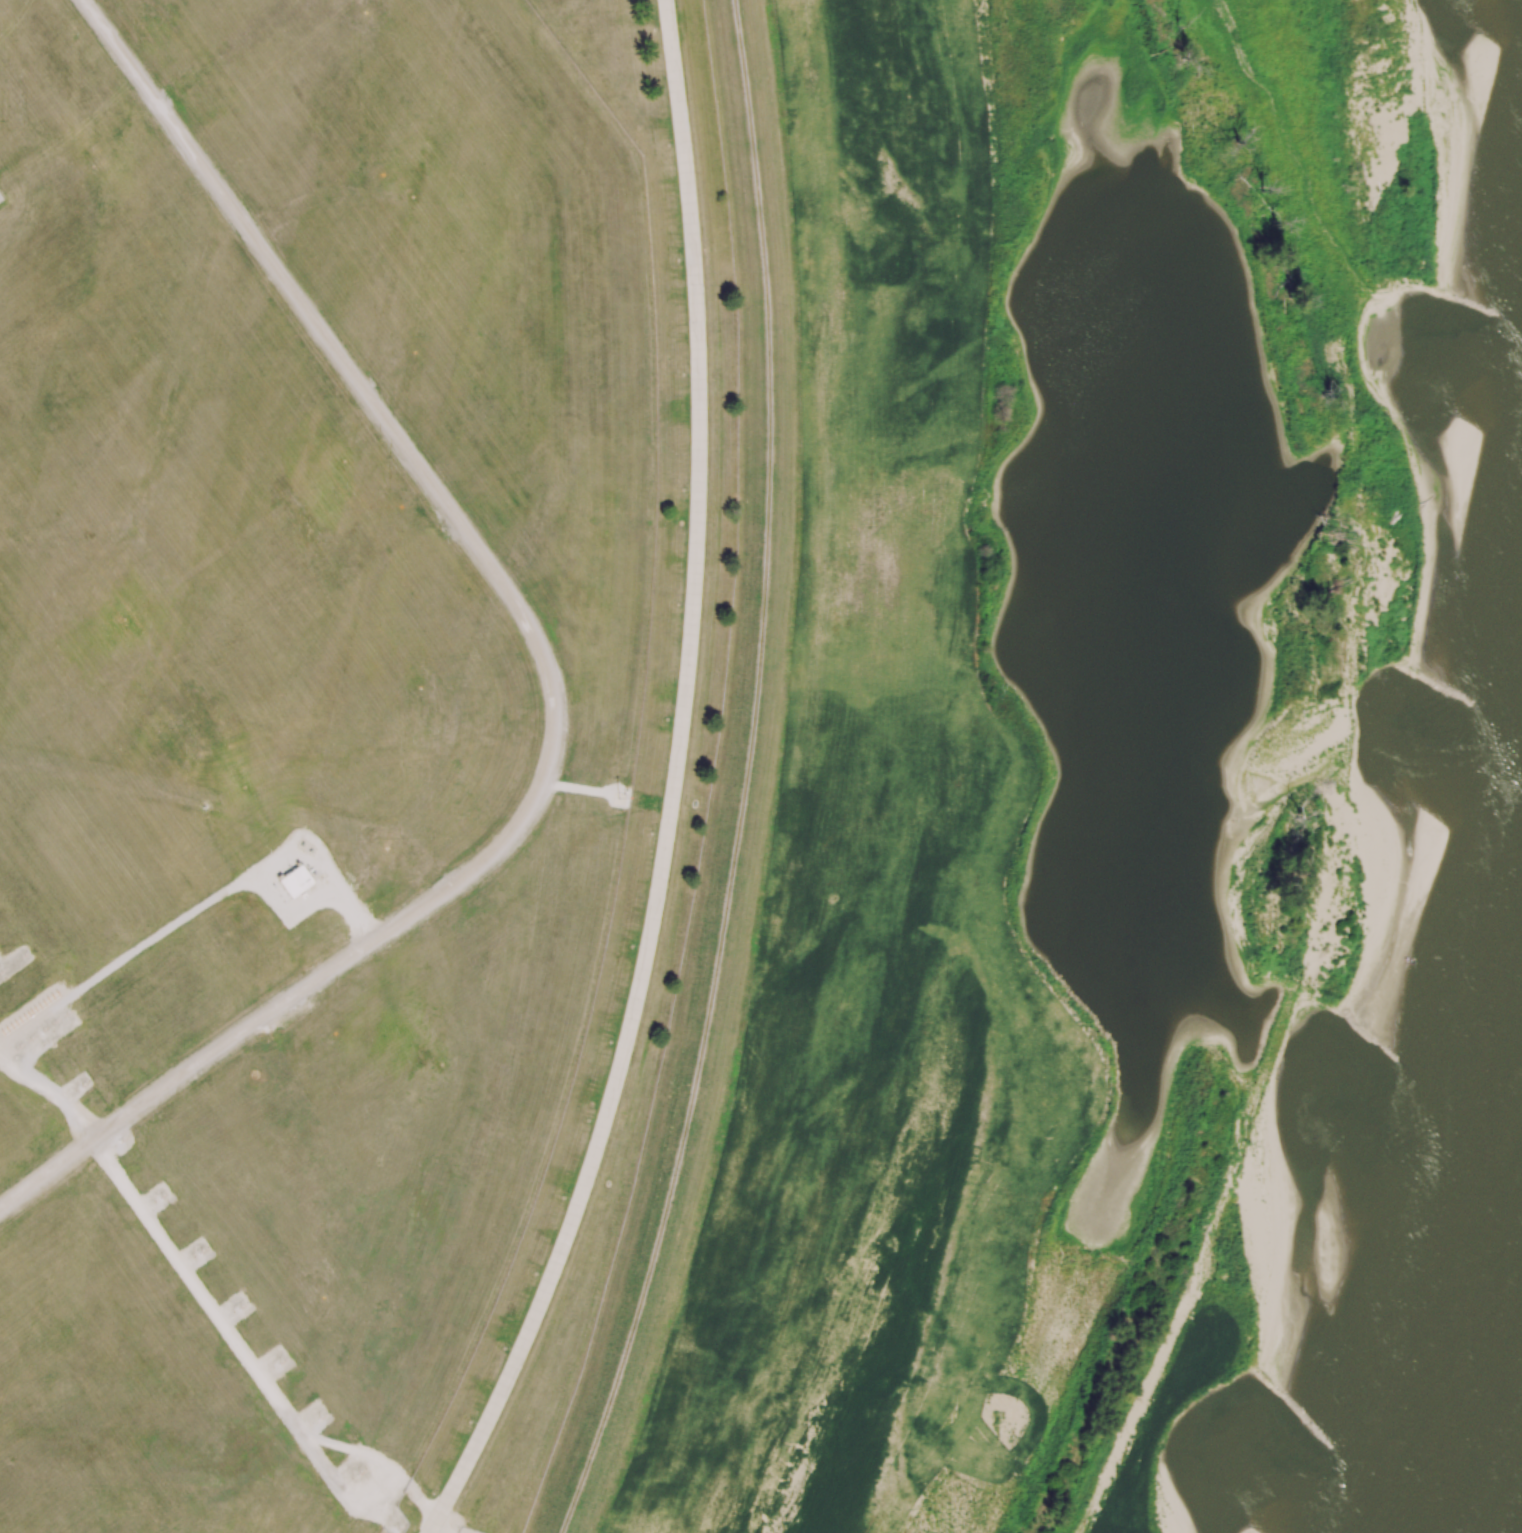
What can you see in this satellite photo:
road: (546, 667)
airport: (343, 731)
road: (675, 787)
building: (294, 881)
road: (186, 920)
road: (214, 1312)
river: (1483, 1413)

